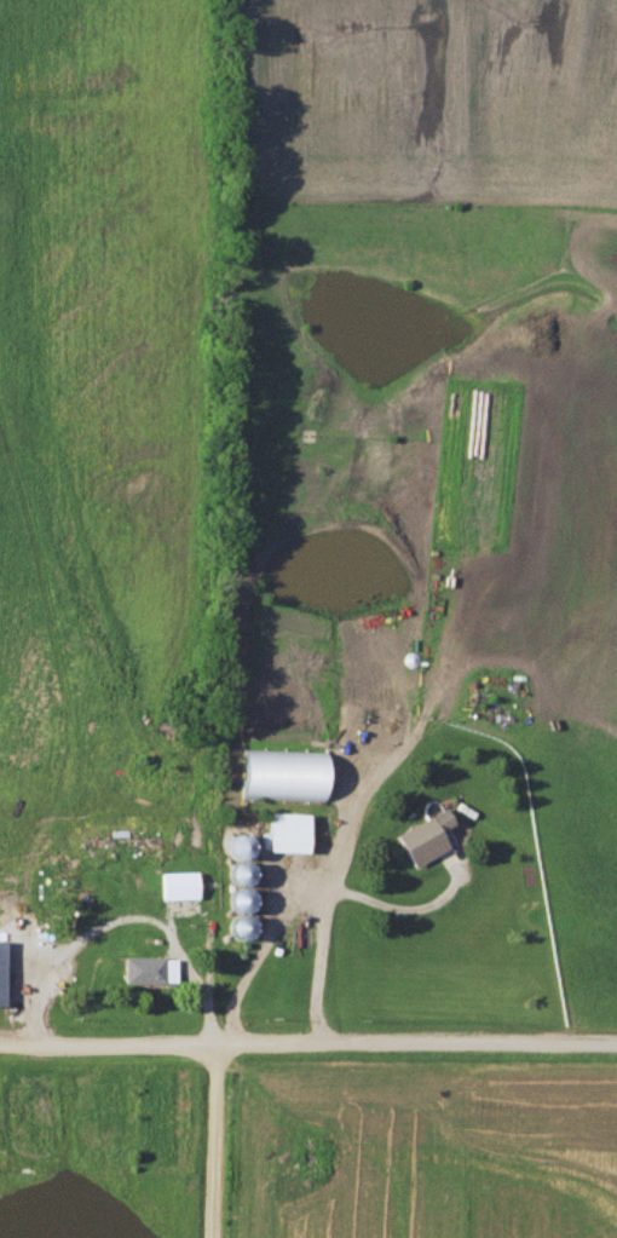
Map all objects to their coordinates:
building: (279, 834)
building: (422, 841)
road: (318, 927)
road: (307, 1040)
road: (217, 1138)

